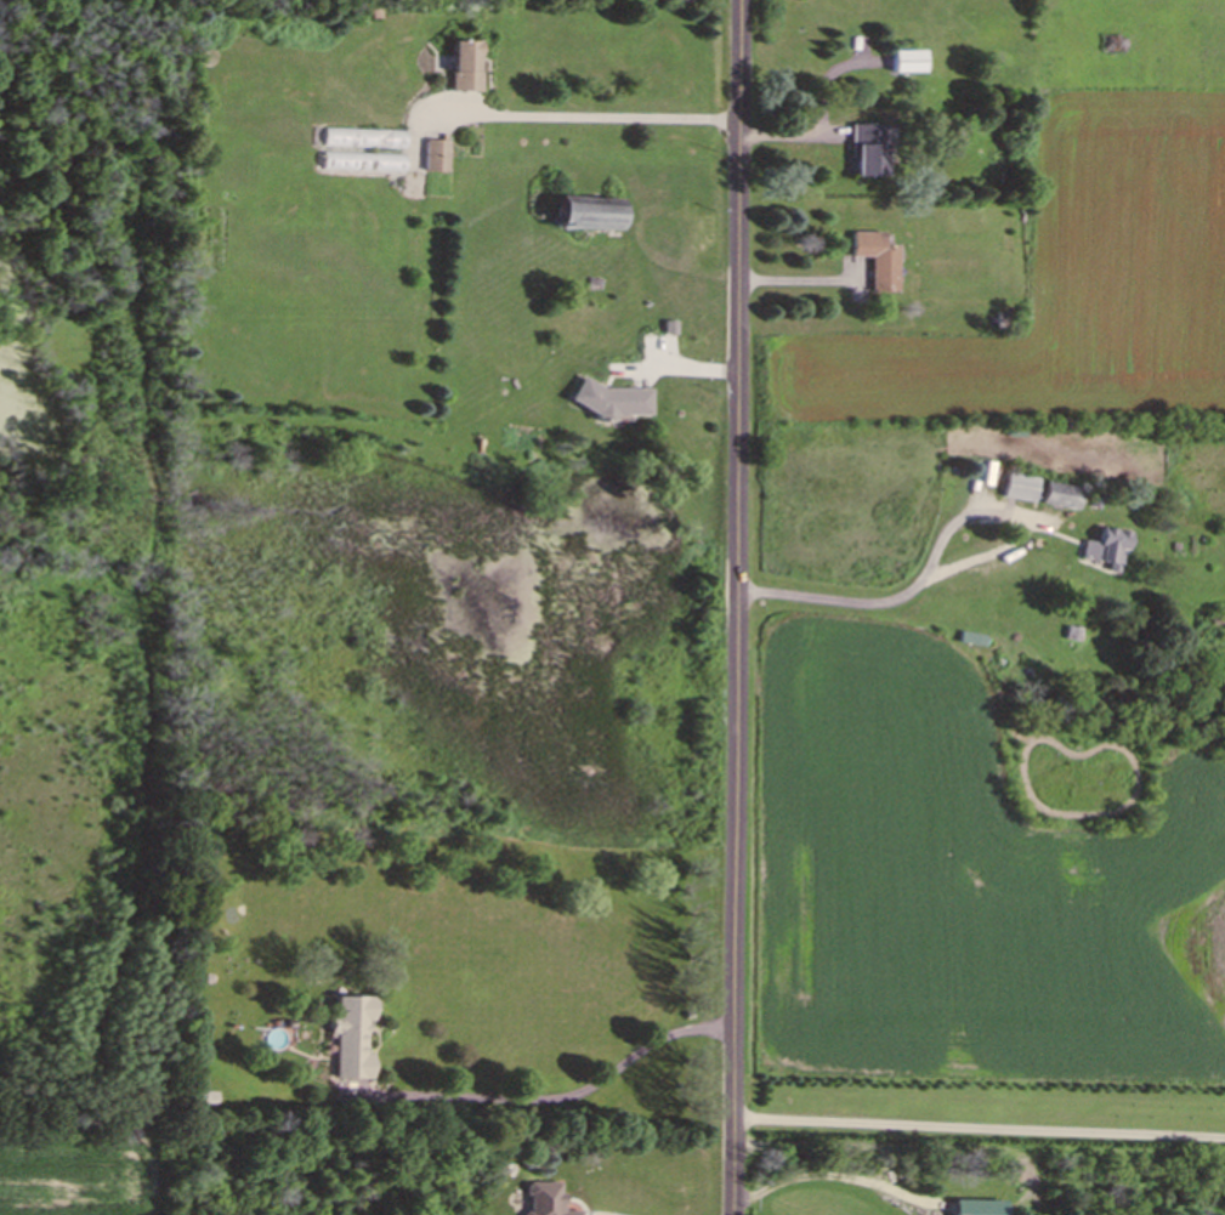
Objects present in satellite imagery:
building: (902, 63)
building: (459, 68)
road: (590, 118)
building: (359, 141)
building: (861, 152)
building: (432, 159)
building: (359, 164)
building: (579, 216)
building: (872, 263)
building: (607, 403)
building: (1013, 489)
building: (1101, 551)
road: (985, 558)
park: (75, 568)
road: (911, 592)
road: (733, 607)
building: (345, 1041)
road: (556, 1096)
road: (977, 1132)
road: (879, 1148)
road: (823, 1177)
building: (537, 1200)
building: (971, 1209)

